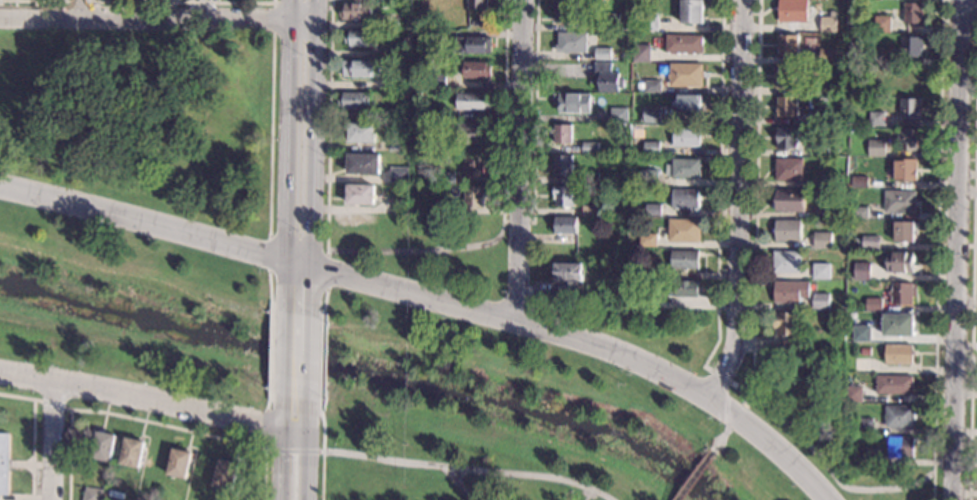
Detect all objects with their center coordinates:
road: (40, 0)
road: (83, 0)
road: (188, 1)
building: (390, 1)
road: (286, 3)
building: (477, 4)
park: (975, 4)
road: (86, 8)
building: (358, 11)
building: (566, 11)
building: (793, 11)
building: (693, 12)
road: (969, 12)
building: (913, 14)
road: (158, 18)
building: (405, 18)
building: (611, 22)
building: (649, 22)
building: (883, 25)
building: (829, 26)
road: (958, 34)
building: (362, 38)
building: (433, 38)
building: (572, 43)
building: (473, 45)
building: (685, 46)
building: (787, 46)
building: (912, 48)
building: (396, 52)
building: (603, 54)
building: (642, 54)
road: (451, 57)
building: (827, 57)
building: (877, 58)
building: (361, 69)
building: (477, 70)
building: (662, 70)
road: (759, 74)
building: (686, 76)
building: (787, 76)
building: (607, 79)
building: (911, 79)
building: (437, 80)
building: (394, 84)
building: (876, 86)
building: (649, 87)
building: (817, 90)
building: (417, 97)
building: (355, 101)
building: (473, 102)
building: (573, 104)
building: (688, 105)
building: (786, 108)
building: (910, 110)
road: (535, 111)
road: (503, 113)
building: (651, 114)
building: (398, 115)
building: (620, 116)
building: (876, 119)
building: (819, 120)
road: (330, 125)
road: (316, 132)
building: (362, 133)
building: (470, 134)
building: (562, 135)
road: (270, 136)
building: (686, 138)
building: (787, 139)
building: (908, 141)
building: (398, 144)
building: (437, 147)
building: (590, 148)
building: (820, 148)
building: (652, 149)
building: (876, 149)
building: (837, 152)
road: (290, 158)
road: (521, 161)
building: (364, 164)
building: (475, 166)
building: (562, 166)
building: (684, 170)
building: (789, 170)
building: (905, 170)
building: (400, 175)
building: (446, 178)
building: (649, 178)
building: (591, 180)
building: (830, 181)
building: (860, 183)
road: (968, 192)
building: (361, 195)
building: (474, 197)
building: (564, 197)
building: (686, 200)
building: (790, 202)
building: (900, 203)
road: (742, 204)
park: (138, 205)
building: (440, 207)
building: (590, 211)
building: (653, 211)
road: (720, 213)
building: (834, 214)
building: (860, 214)
road: (158, 221)
road: (517, 221)
building: (565, 227)
building: (684, 231)
building: (787, 232)
building: (906, 233)
building: (568, 241)
building: (648, 241)
building: (822, 241)
building: (871, 245)
road: (975, 246)
building: (621, 249)
road: (936, 249)
road: (958, 249)
road: (419, 250)
road: (267, 252)
building: (685, 261)
building: (787, 263)
building: (899, 263)
road: (327, 268)
building: (653, 271)
building: (821, 272)
building: (862, 273)
building: (568, 275)
road: (756, 275)
road: (270, 285)
building: (685, 291)
road: (313, 293)
building: (791, 293)
road: (973, 293)
building: (903, 294)
road: (324, 299)
building: (636, 301)
road: (967, 301)
building: (821, 302)
building: (874, 305)
building: (898, 326)
building: (787, 328)
building: (848, 335)
building: (862, 335)
road: (311, 339)
road: (591, 343)
road: (272, 351)
building: (793, 351)
building: (864, 352)
road: (285, 353)
building: (836, 355)
building: (899, 355)
road: (321, 360)
building: (862, 366)
river: (364, 368)
road: (310, 375)
building: (894, 386)
park: (562, 389)
building: (860, 398)
road: (155, 401)
road: (52, 404)
building: (900, 419)
road: (150, 422)
road: (268, 424)
road: (729, 427)
building: (864, 427)
road: (33, 432)
road: (54, 441)
road: (284, 445)
building: (102, 446)
road: (310, 447)
building: (901, 449)
road: (294, 450)
building: (131, 452)
road: (323, 455)
building: (870, 458)
building: (4, 464)
building: (179, 464)
road: (469, 469)
road: (830, 471)
building: (227, 477)
road: (693, 477)
road: (462, 485)
building: (107, 492)
building: (92, 494)
building: (114, 494)
building: (112, 499)

